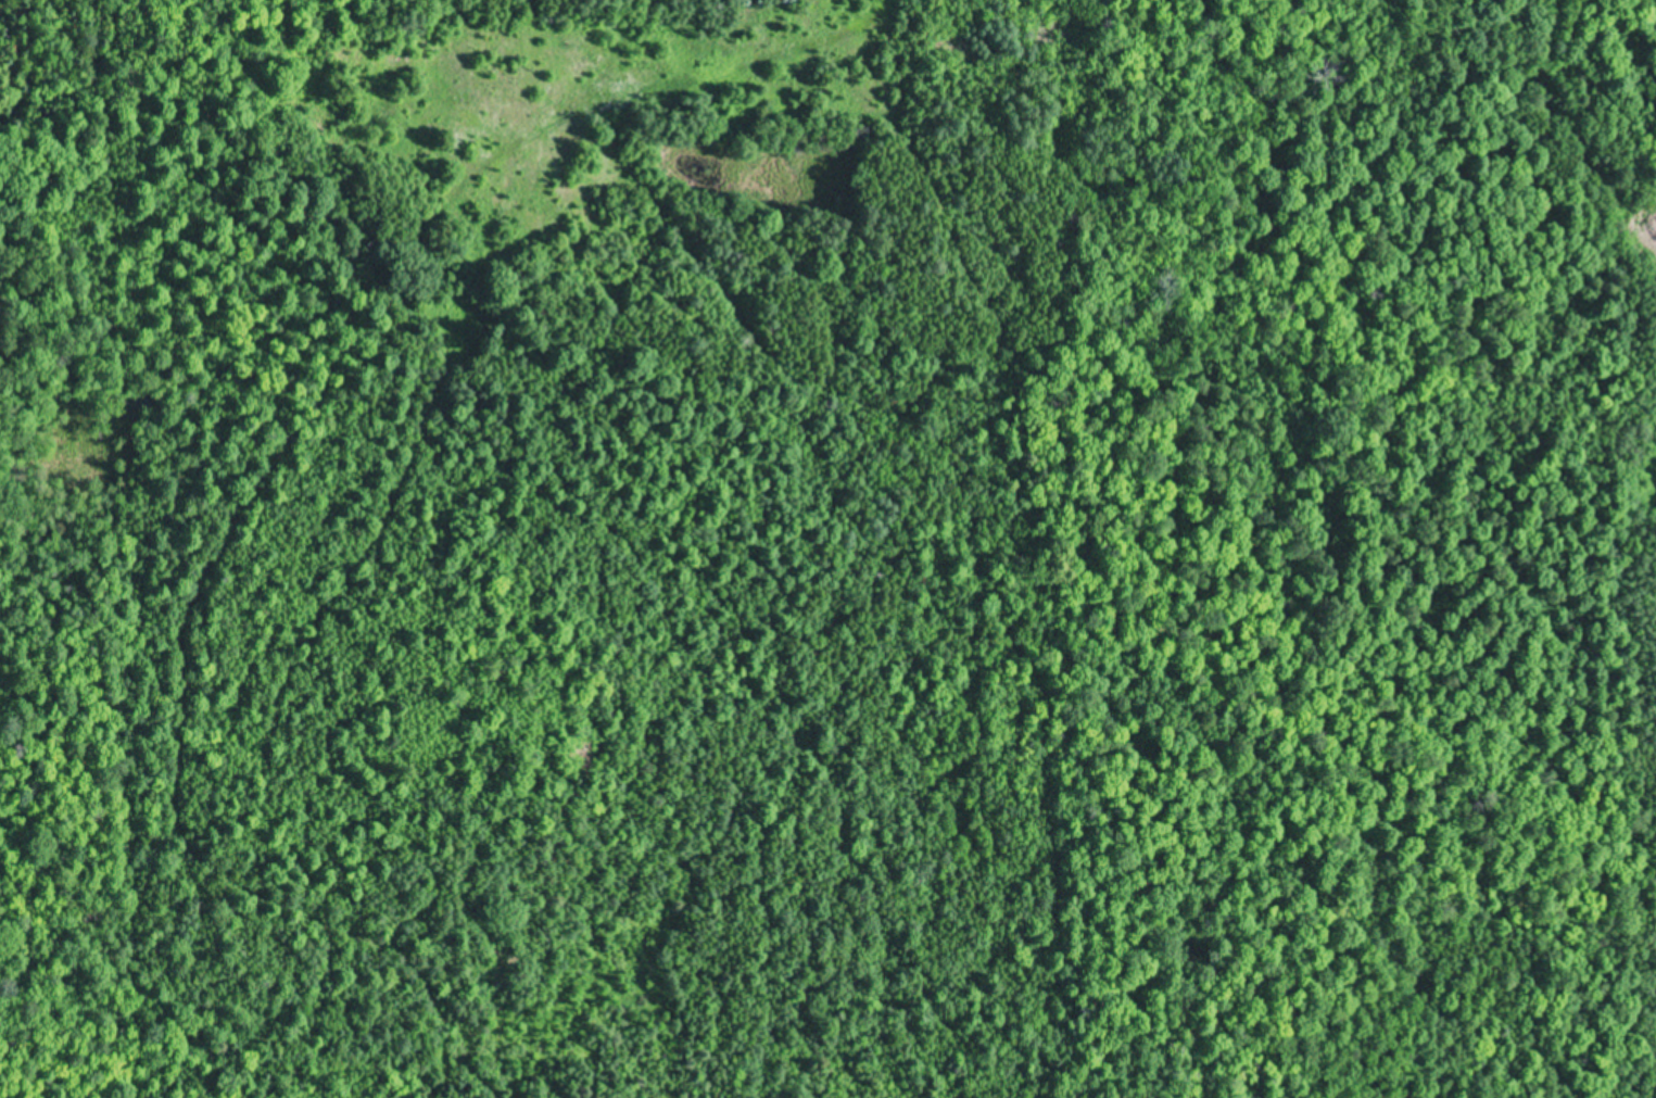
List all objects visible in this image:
quarry: (1630, 557)

